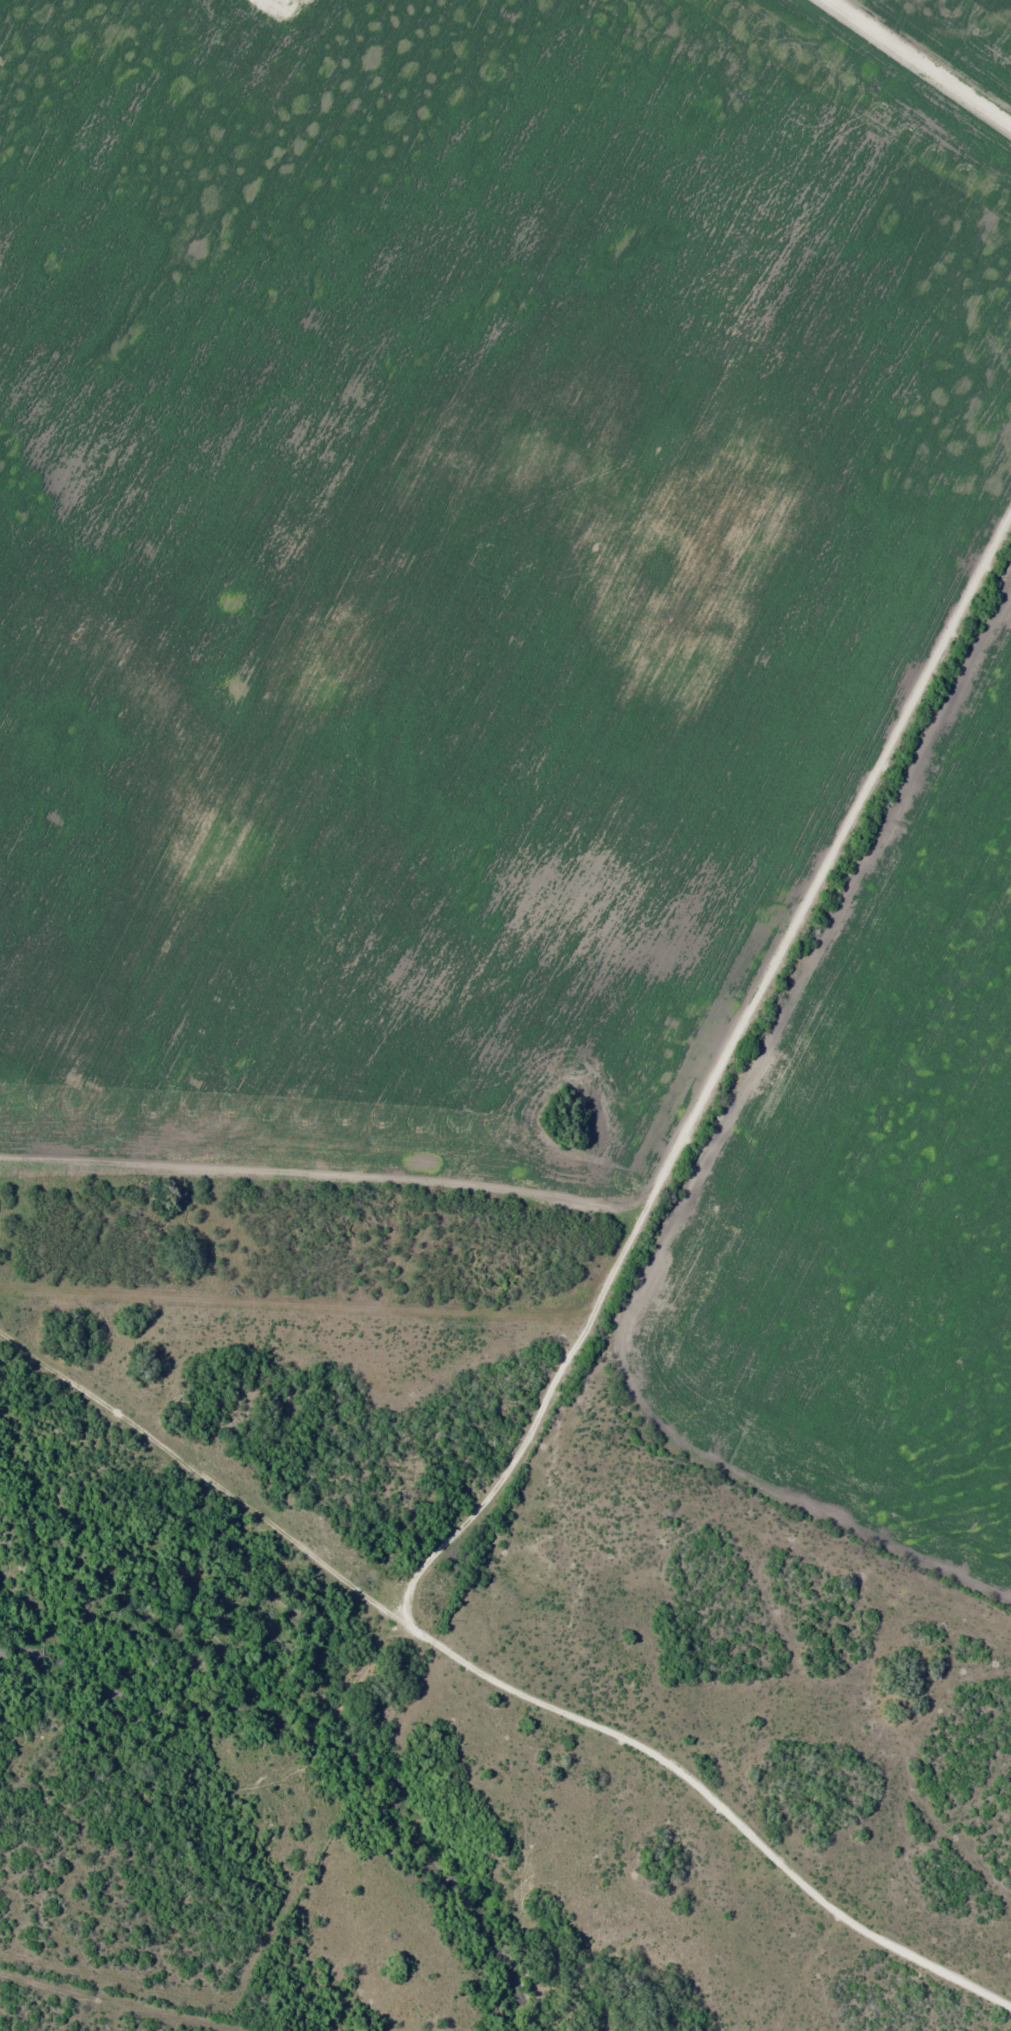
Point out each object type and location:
road: (522, 1432)
road: (196, 1475)

